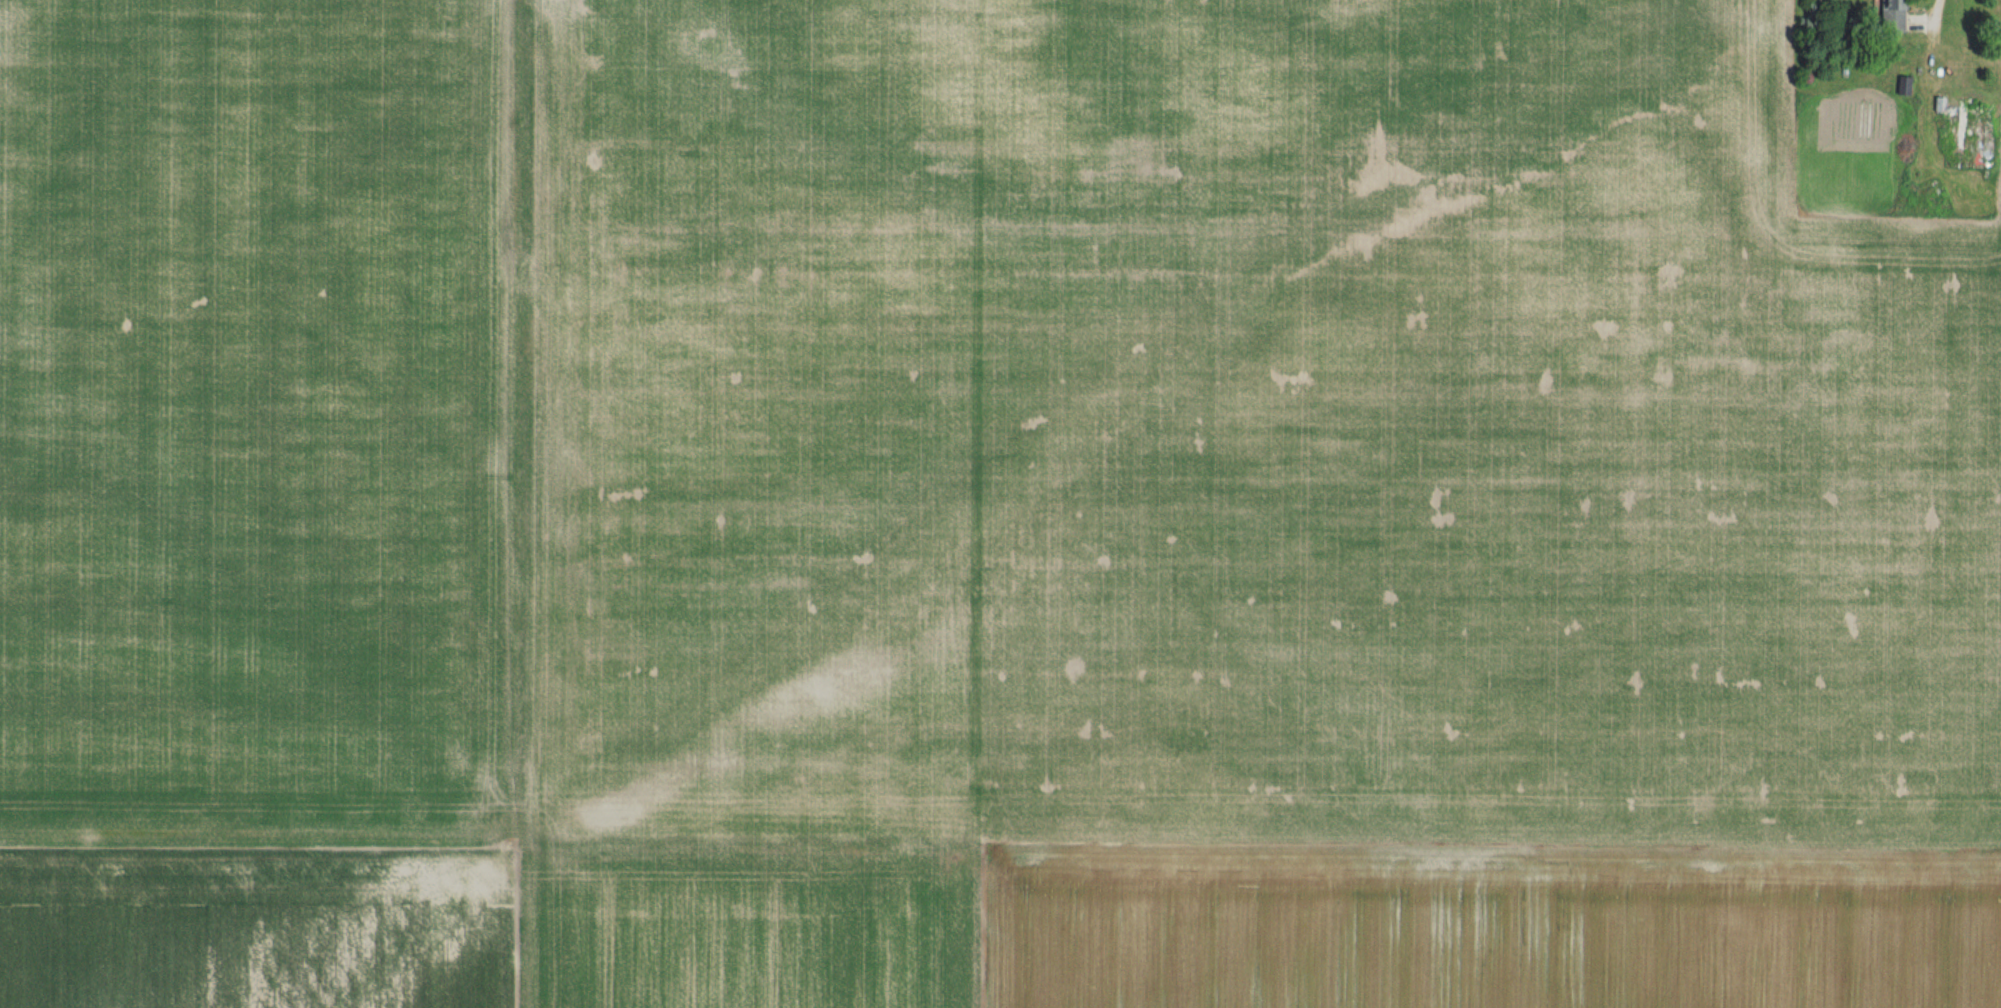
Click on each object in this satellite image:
building: (1890, 16)

